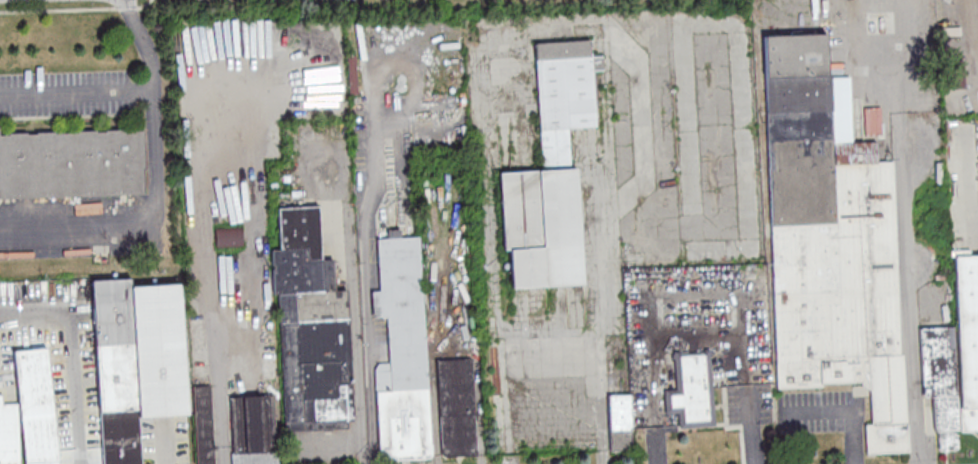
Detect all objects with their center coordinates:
road: (968, 28)
road: (145, 42)
building: (566, 95)
building: (72, 163)
road: (156, 165)
building: (542, 226)
building: (228, 237)
building: (831, 242)
road: (699, 294)
road: (909, 317)
building: (311, 328)
building: (159, 349)
building: (402, 350)
road: (74, 353)
road: (355, 360)
building: (954, 360)
building: (116, 371)
road: (221, 390)
building: (693, 391)
building: (36, 405)
building: (456, 407)
road: (840, 408)
building: (620, 422)
building: (204, 424)
building: (254, 429)
road: (556, 430)
building: (9, 433)

